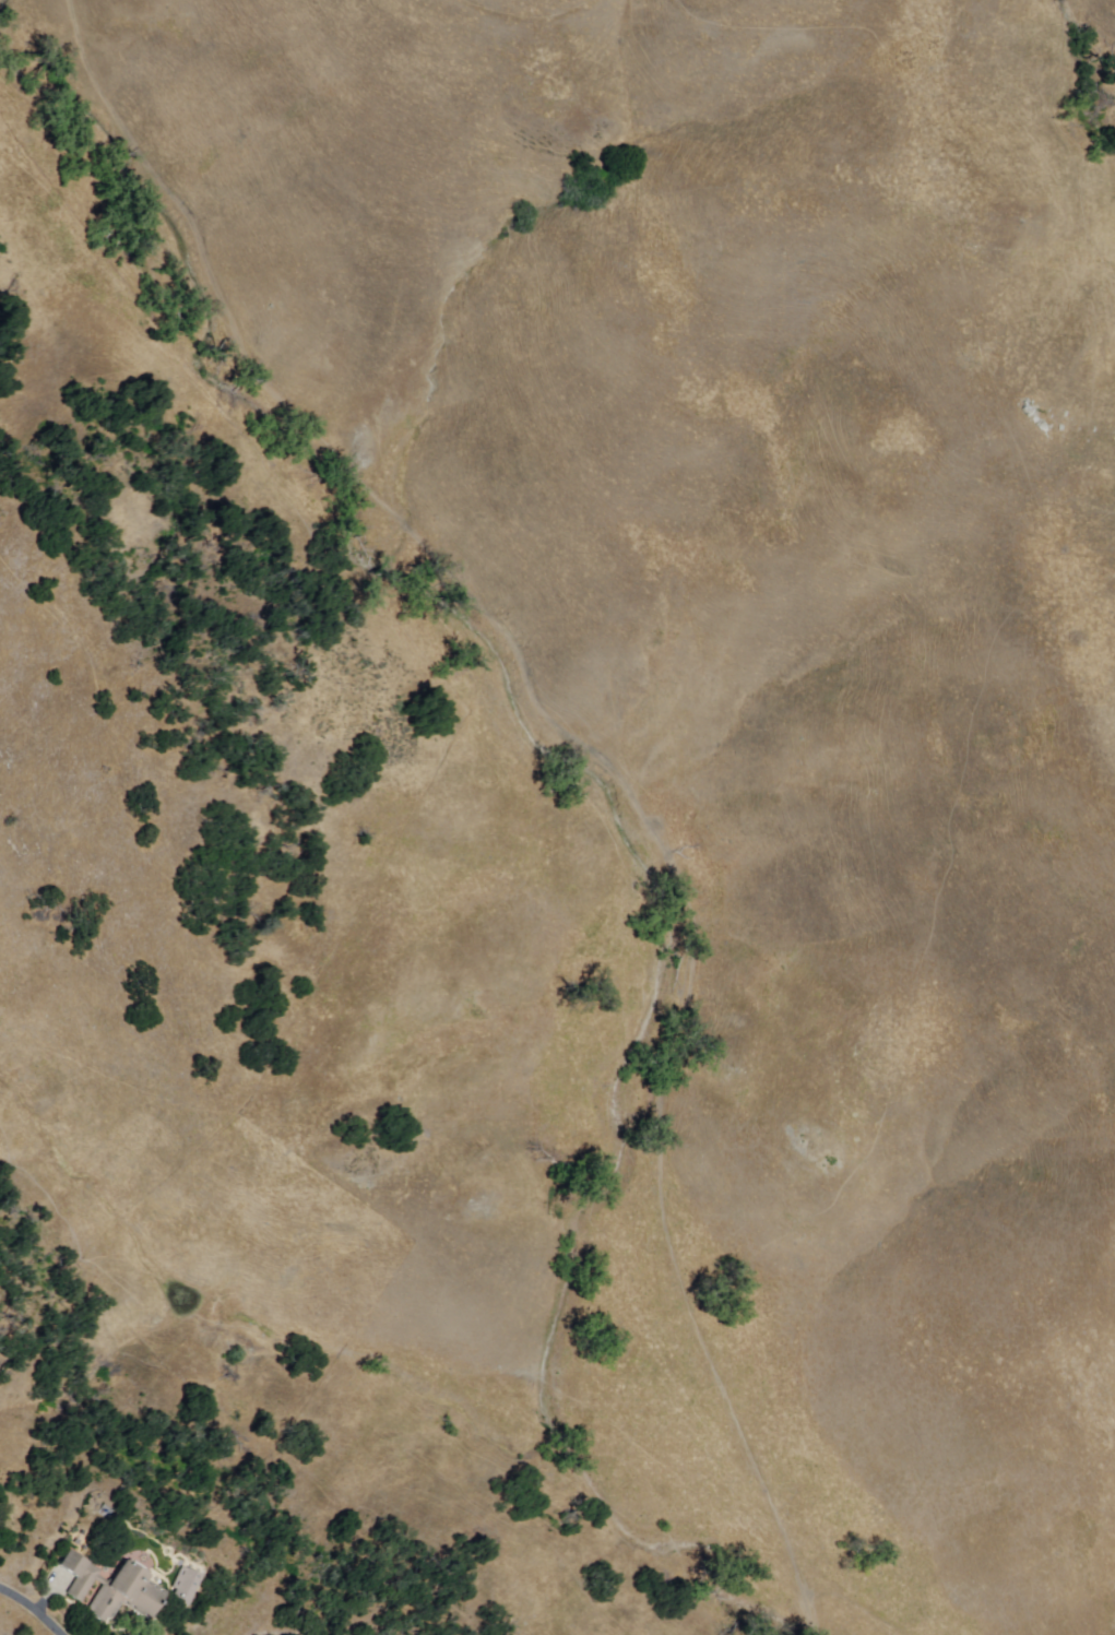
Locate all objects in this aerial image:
road: (594, 756)
building: (188, 1583)
building: (112, 1588)
road: (35, 1607)

